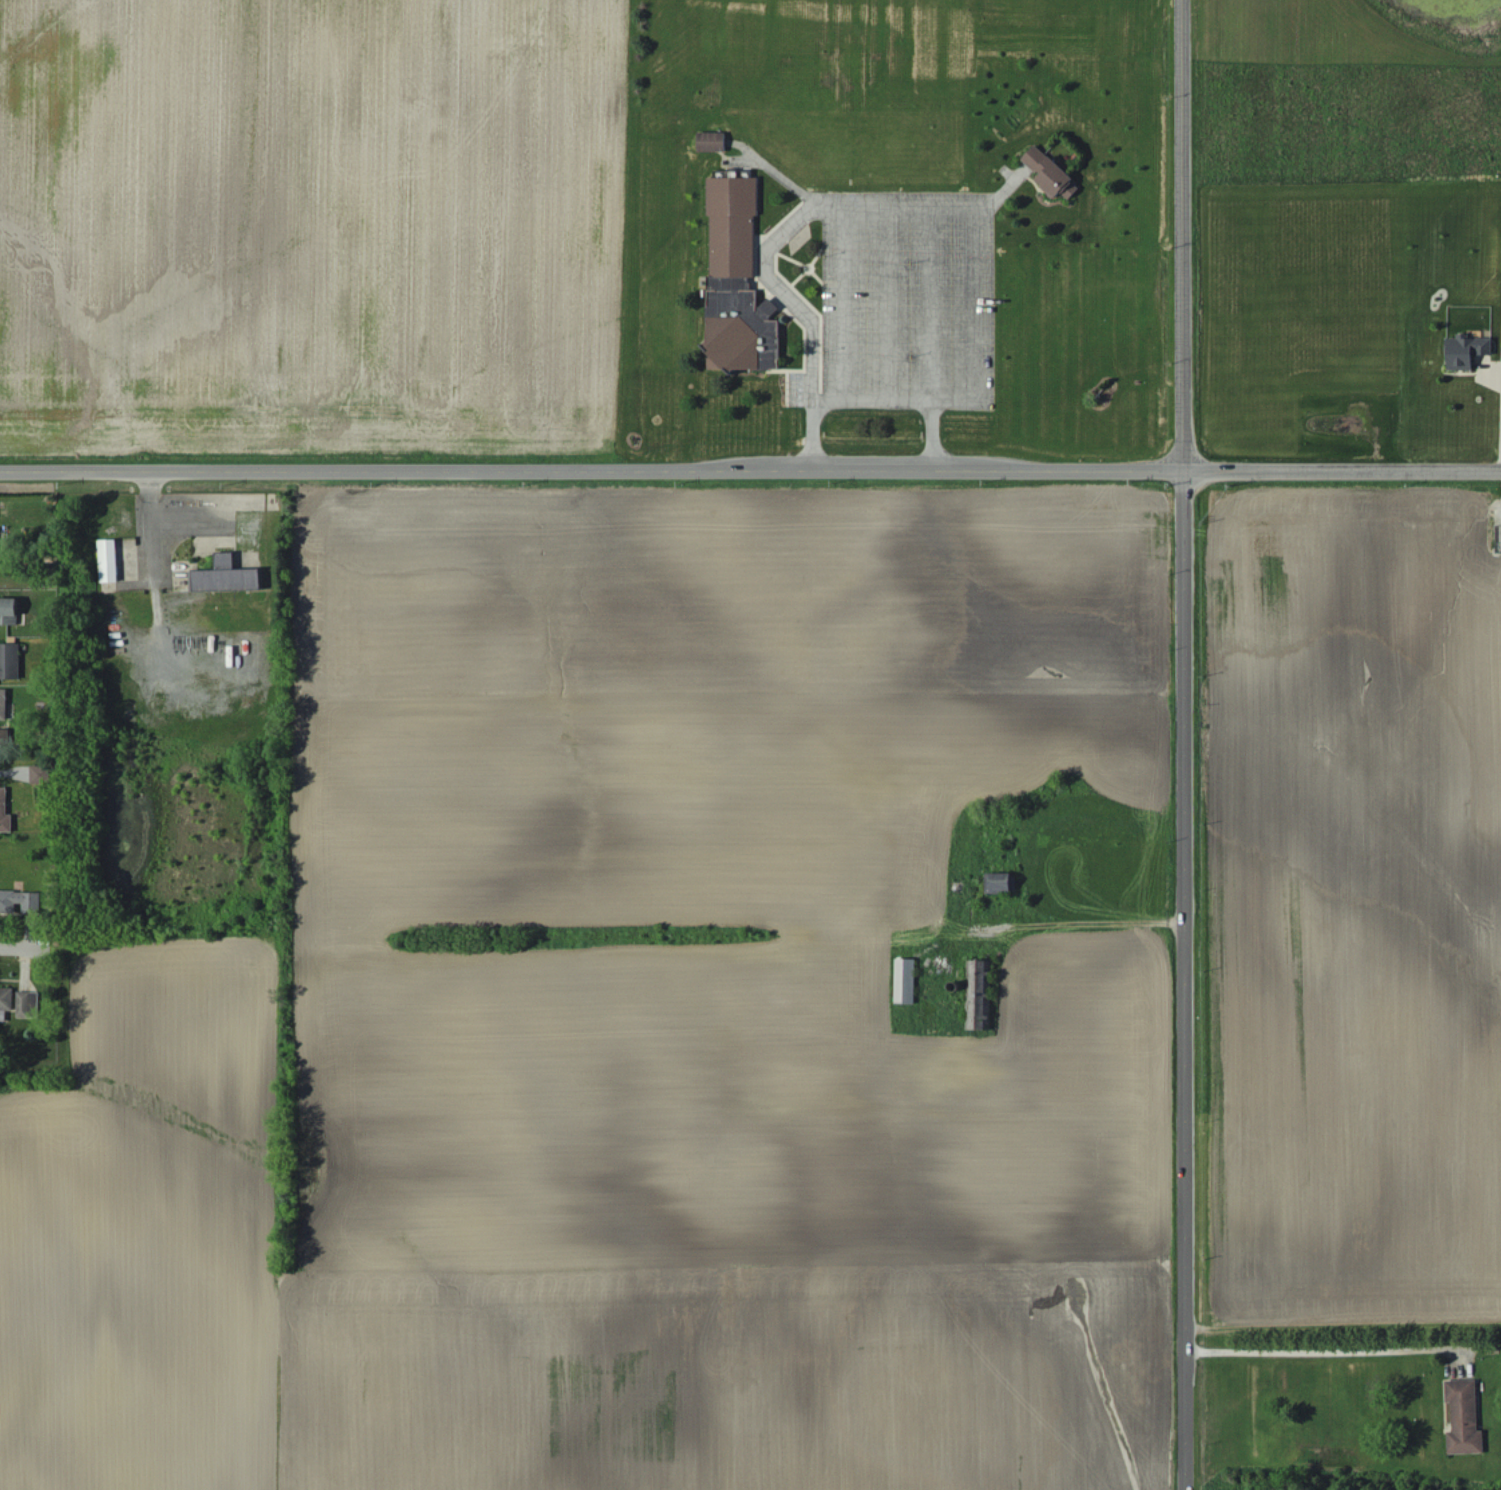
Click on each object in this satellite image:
building: (710, 140)
building: (1049, 172)
road: (904, 213)
road: (1180, 234)
building: (736, 282)
road: (798, 308)
building: (1465, 350)
road: (970, 385)
road: (930, 431)
road: (750, 466)
building: (108, 559)
building: (225, 575)
road: (145, 603)
building: (8, 610)
building: (9, 660)
building: (3, 703)
building: (4, 739)
building: (40, 773)
building: (4, 812)
building: (1000, 882)
building: (20, 900)
road: (1079, 925)
road: (20, 948)
road: (1183, 979)
building: (905, 980)
building: (978, 993)
building: (6, 1001)
building: (27, 1003)
road: (1324, 1352)
building: (1463, 1417)

